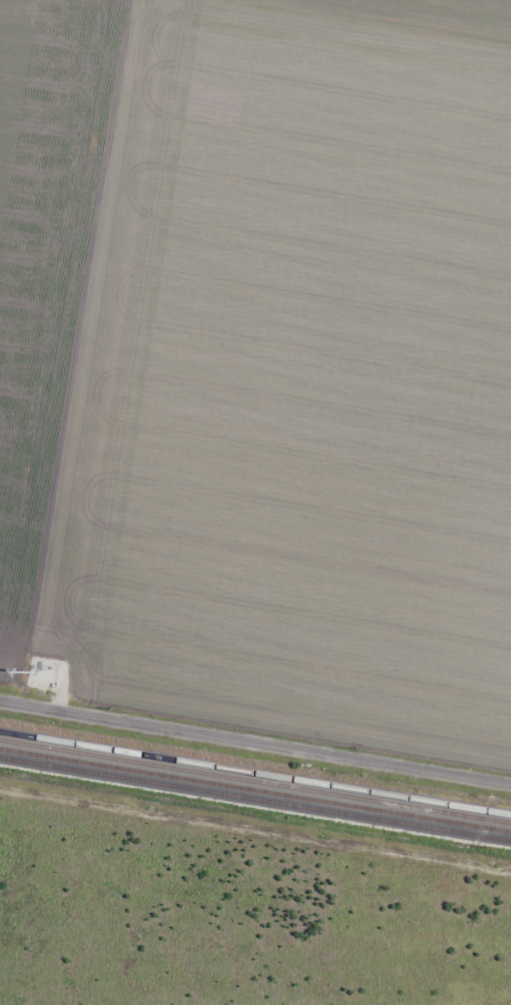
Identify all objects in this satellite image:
crop: (261, 360)
road: (255, 743)
railway: (255, 777)
railway: (255, 788)

